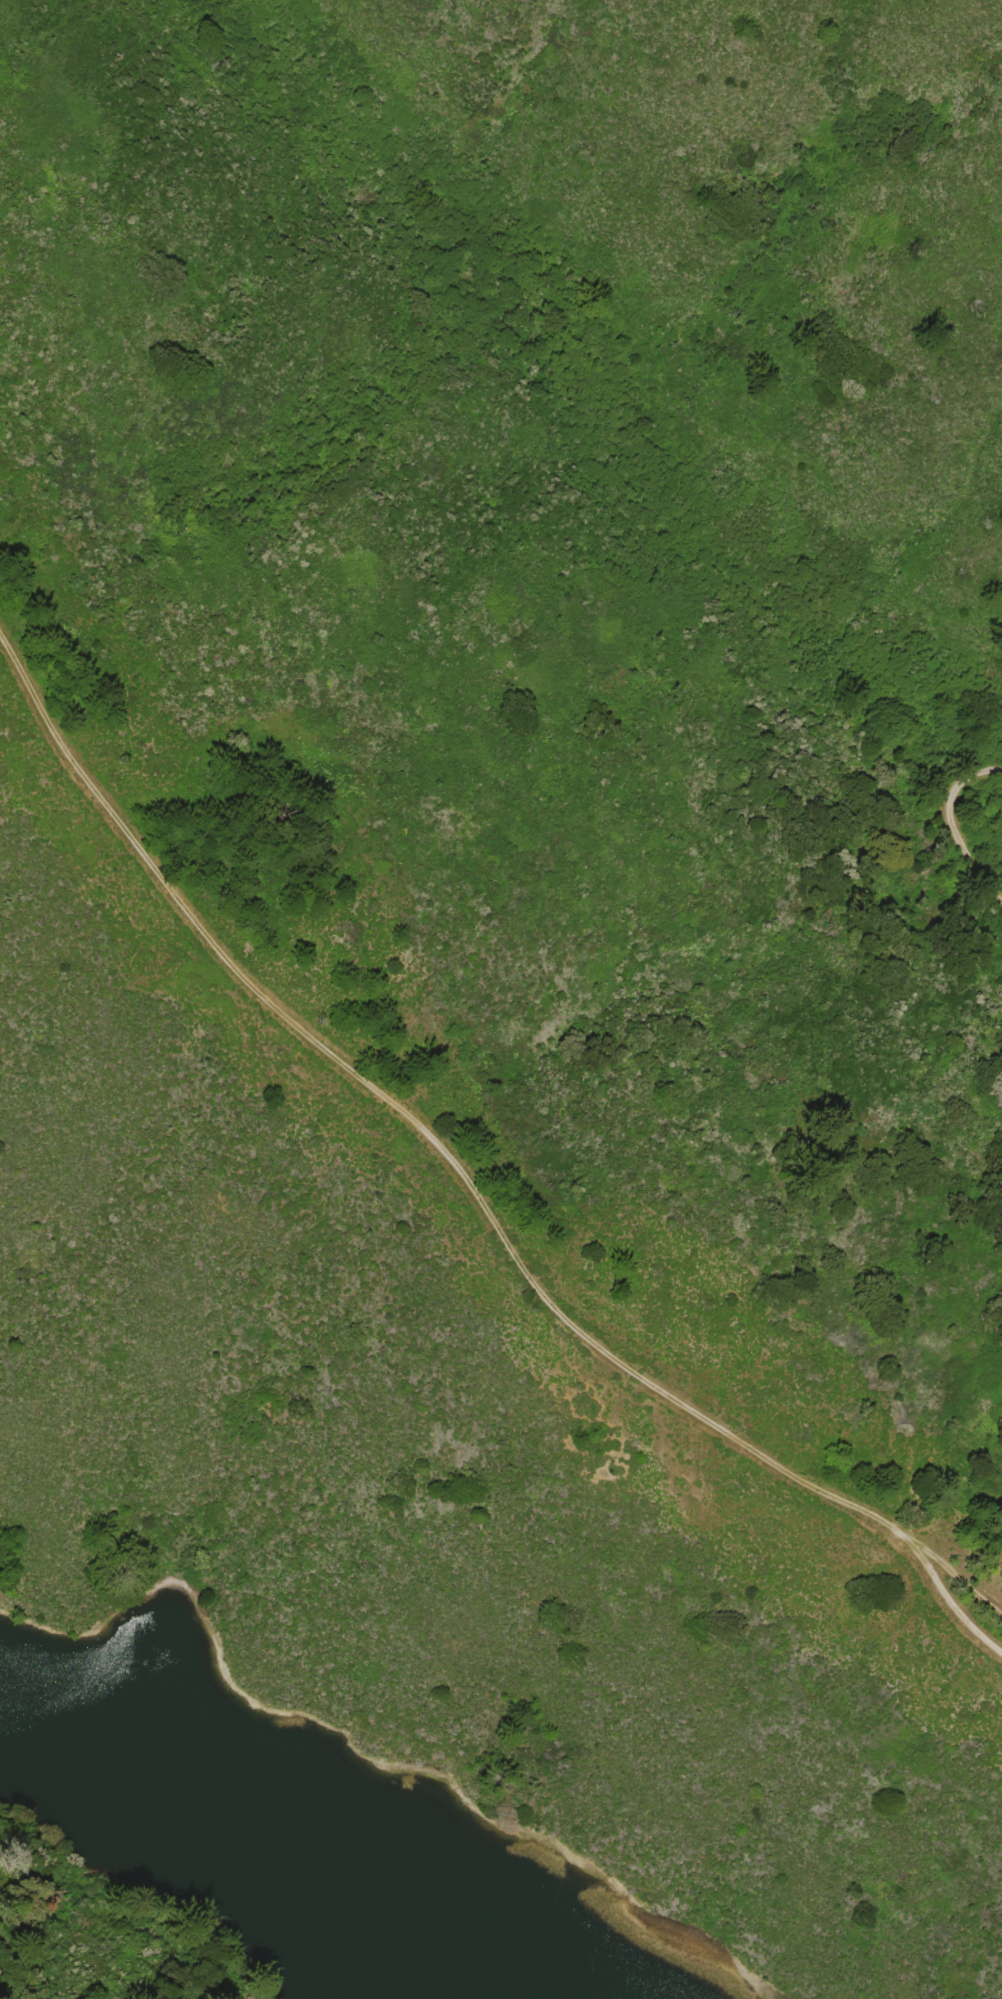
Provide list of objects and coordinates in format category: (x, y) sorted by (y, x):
road: (960, 830)
road: (466, 1181)

